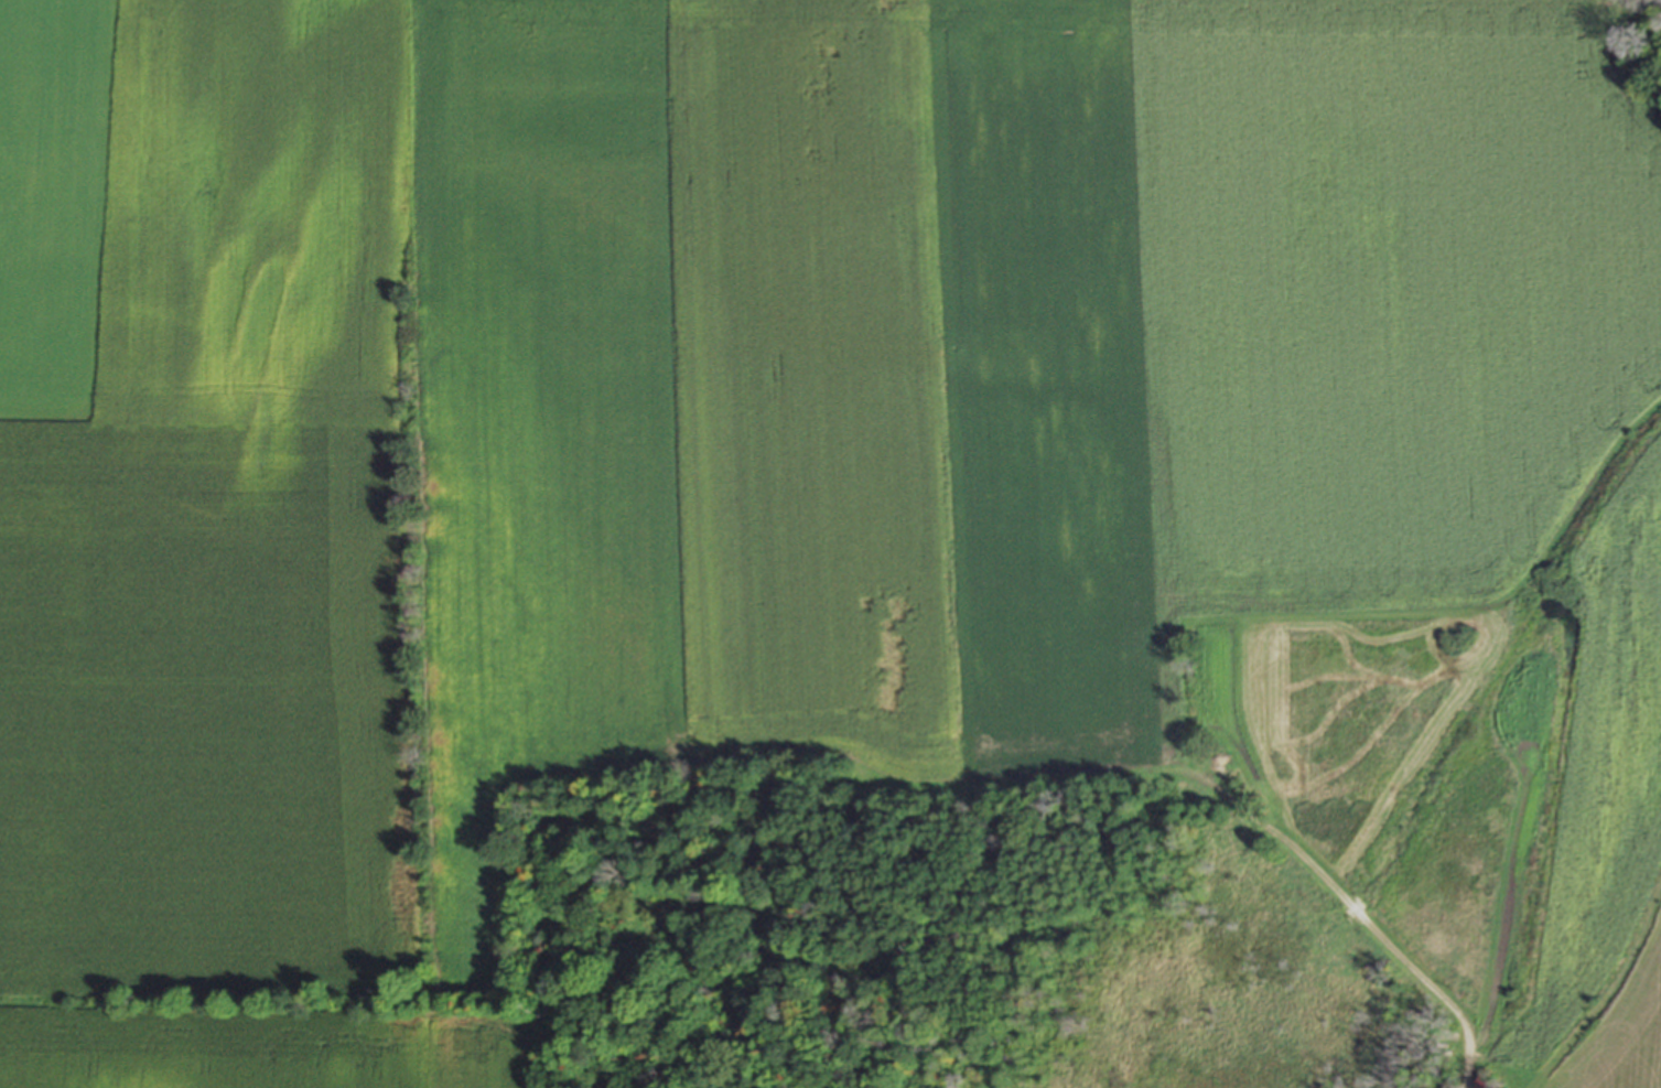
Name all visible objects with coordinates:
road: (1465, 1080)
building: (1484, 1081)

